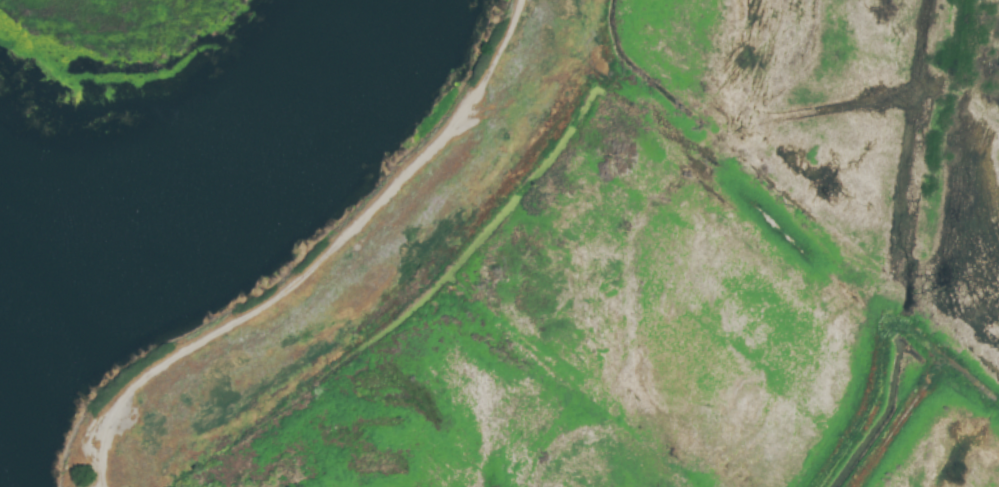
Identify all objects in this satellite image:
river: (235, 170)
crop: (639, 270)

